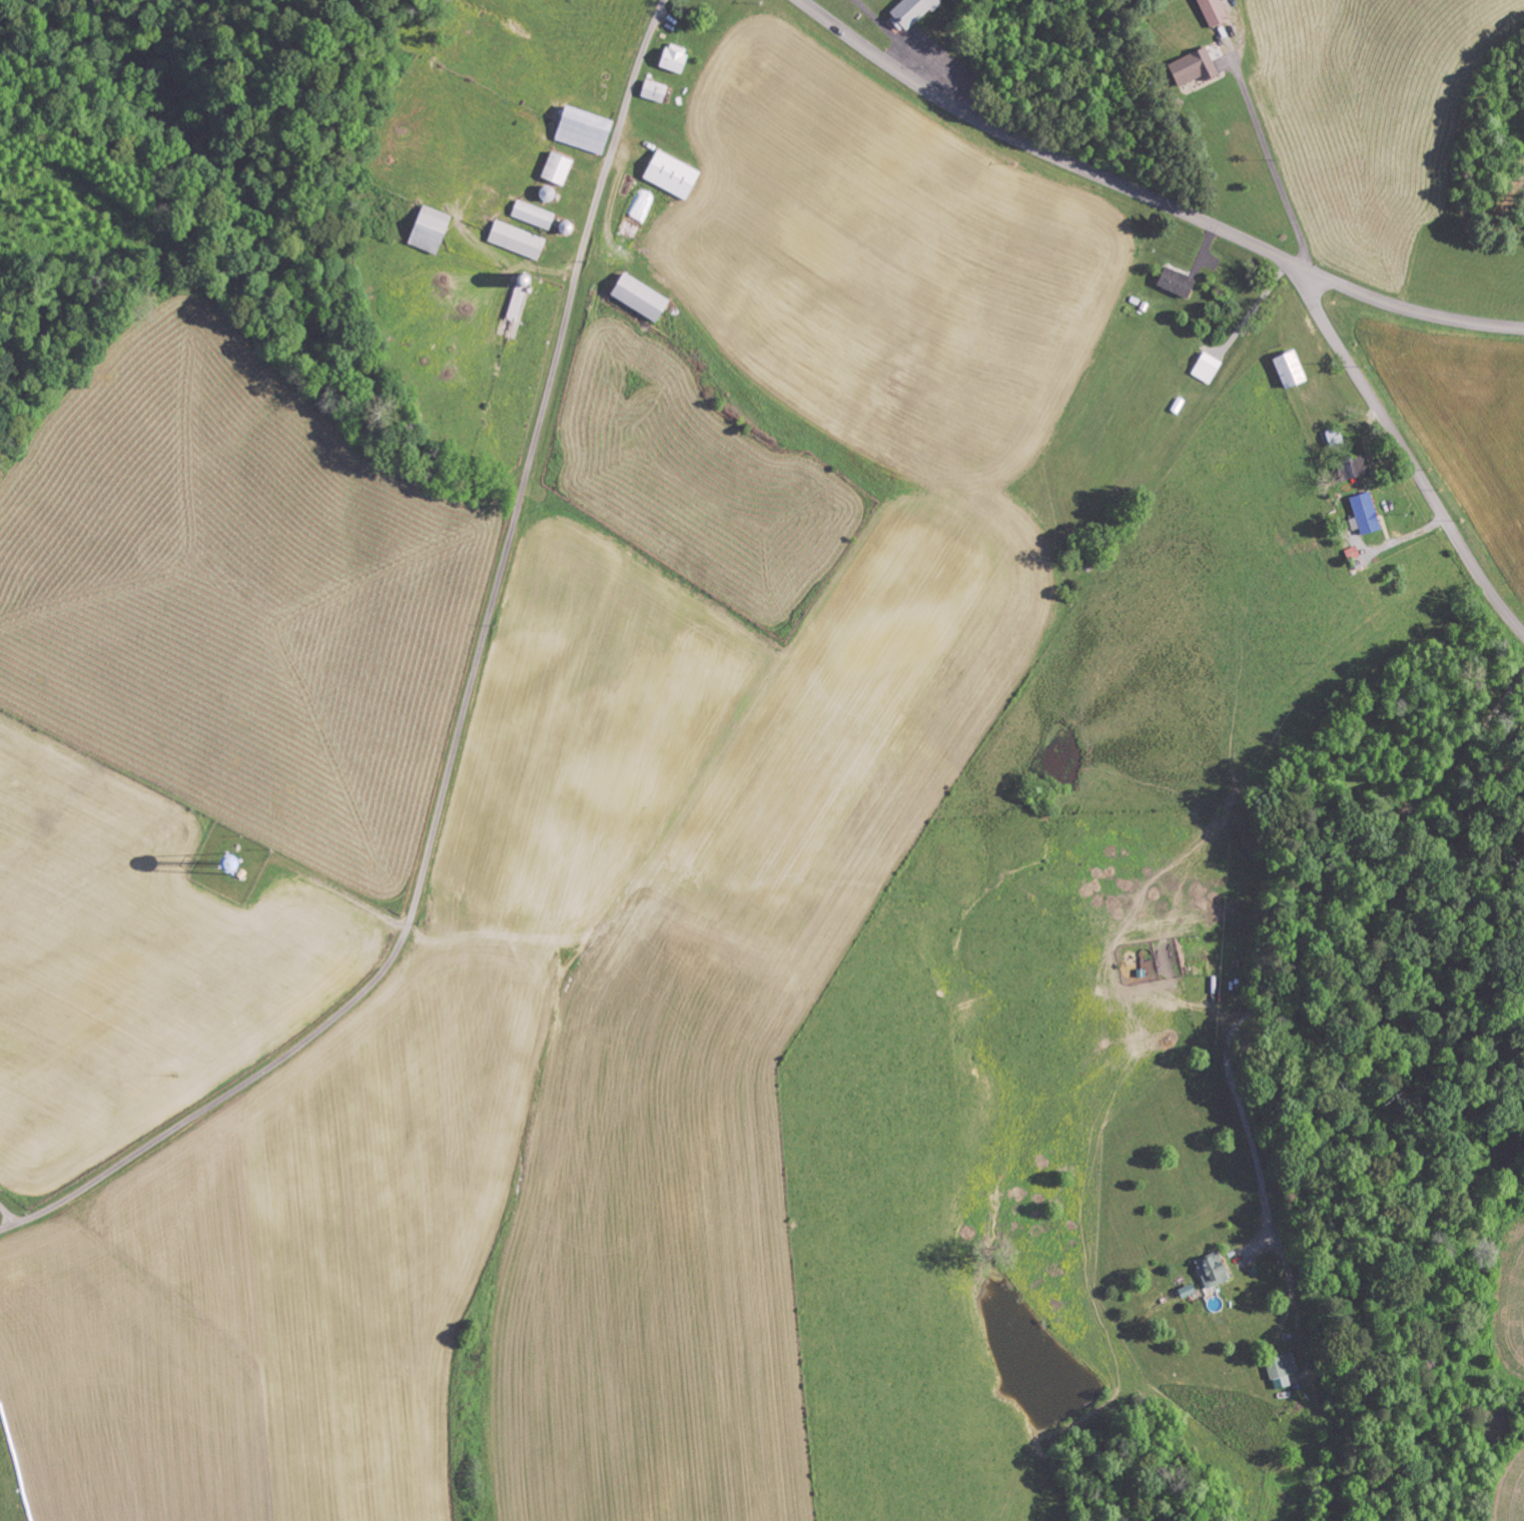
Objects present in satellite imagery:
building: (1209, 12)
building: (907, 13)
building: (671, 59)
building: (1190, 68)
building: (650, 91)
building: (579, 130)
building: (553, 169)
building: (669, 175)
road: (1147, 196)
building: (530, 215)
building: (425, 229)
building: (513, 240)
building: (1173, 282)
building: (635, 298)
building: (1205, 368)
building: (1286, 370)
road: (1407, 453)
building: (1351, 468)
building: (1362, 514)
road: (464, 710)
building: (1208, 1270)
building: (1183, 1291)
building: (1278, 1370)

